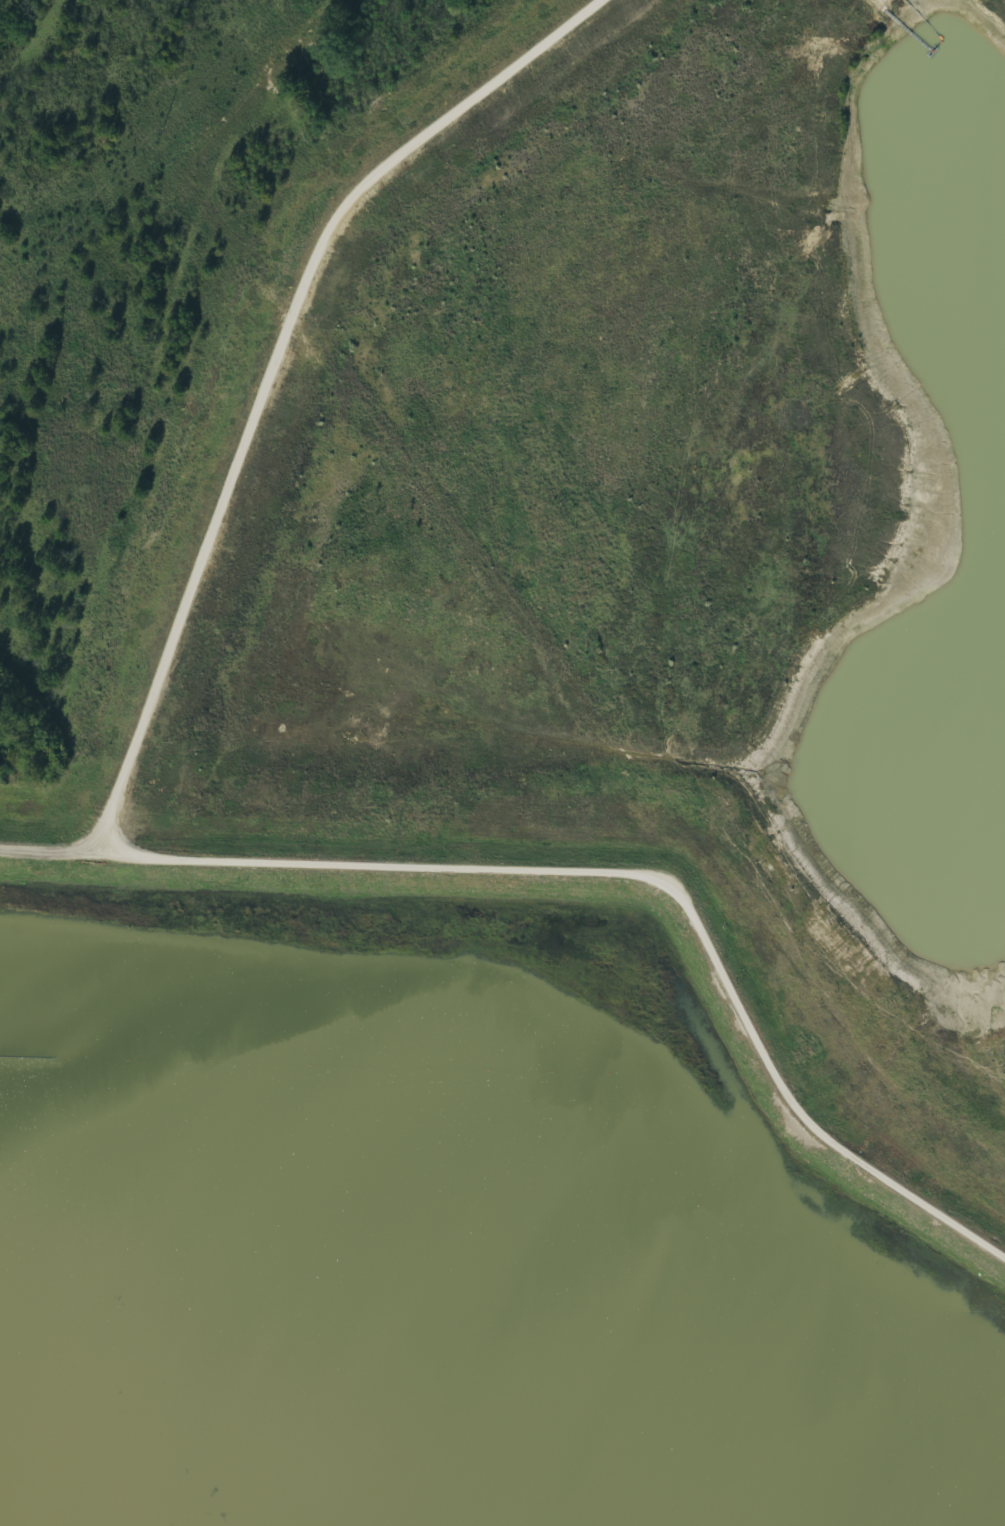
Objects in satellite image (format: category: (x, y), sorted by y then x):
quarry: (525, 798)

